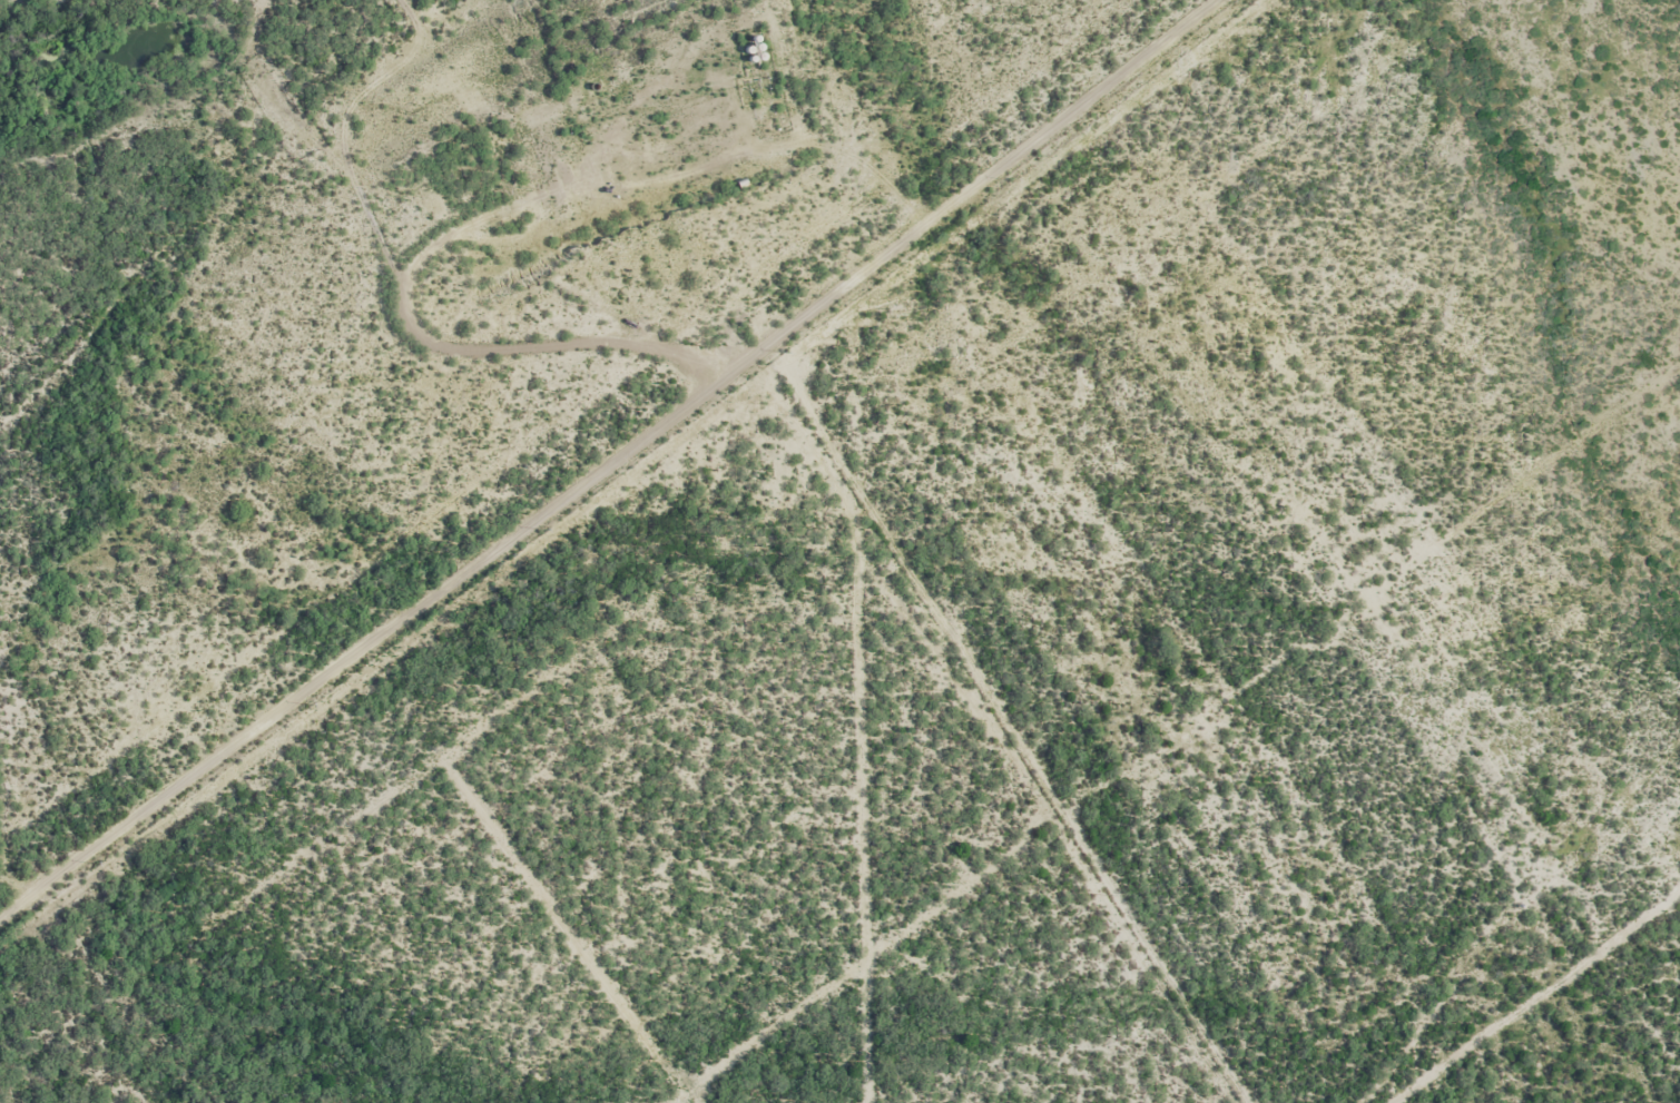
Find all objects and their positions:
road: (630, 479)

